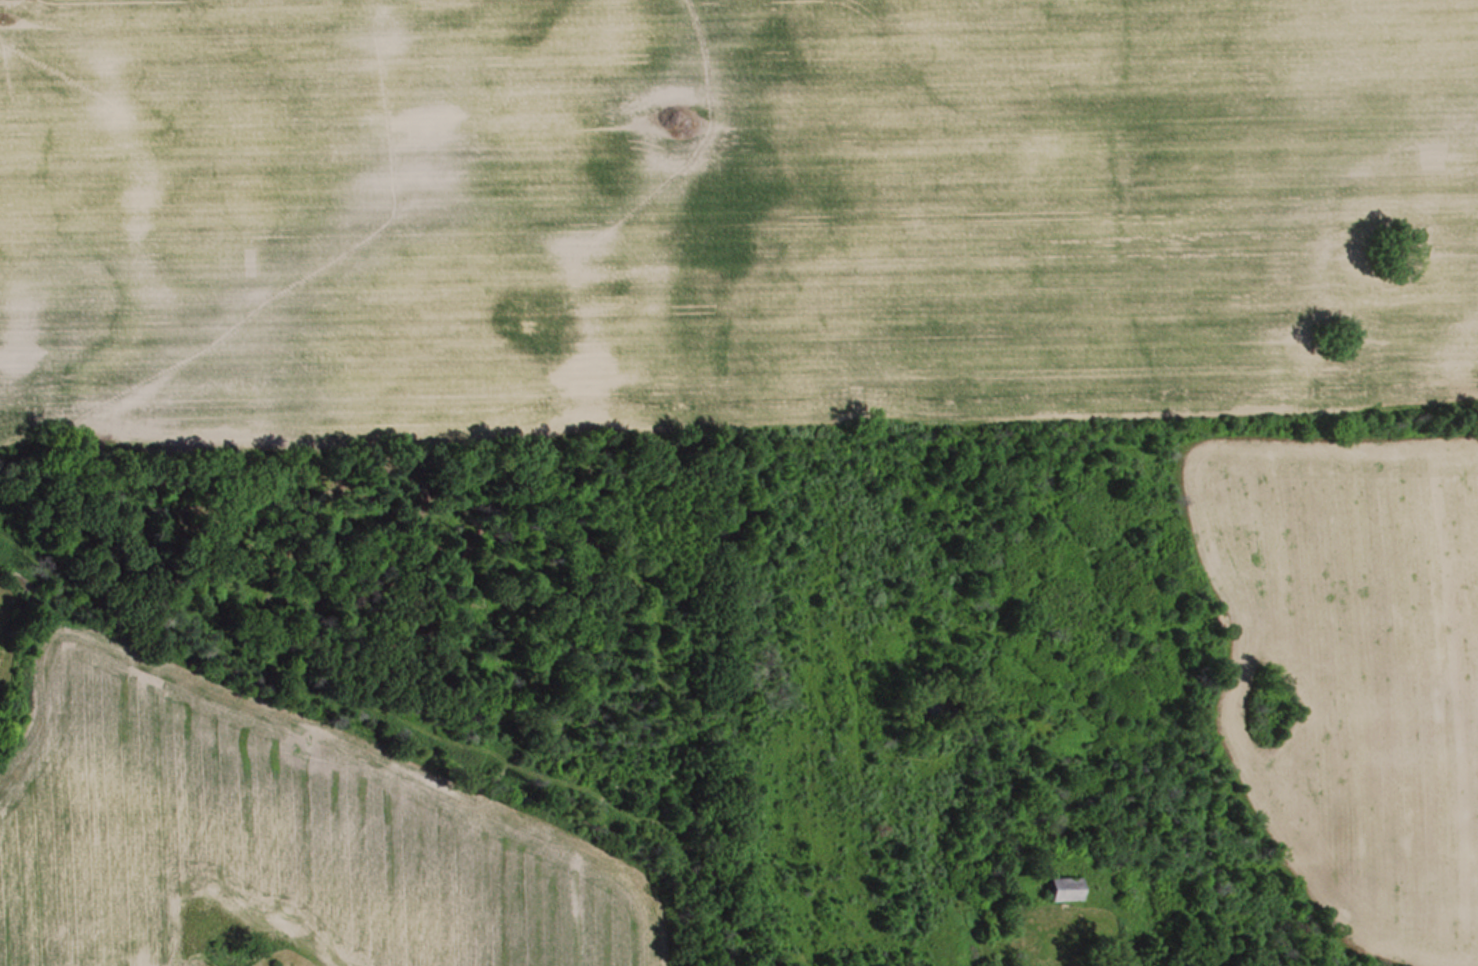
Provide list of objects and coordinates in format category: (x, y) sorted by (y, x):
building: (1069, 888)

